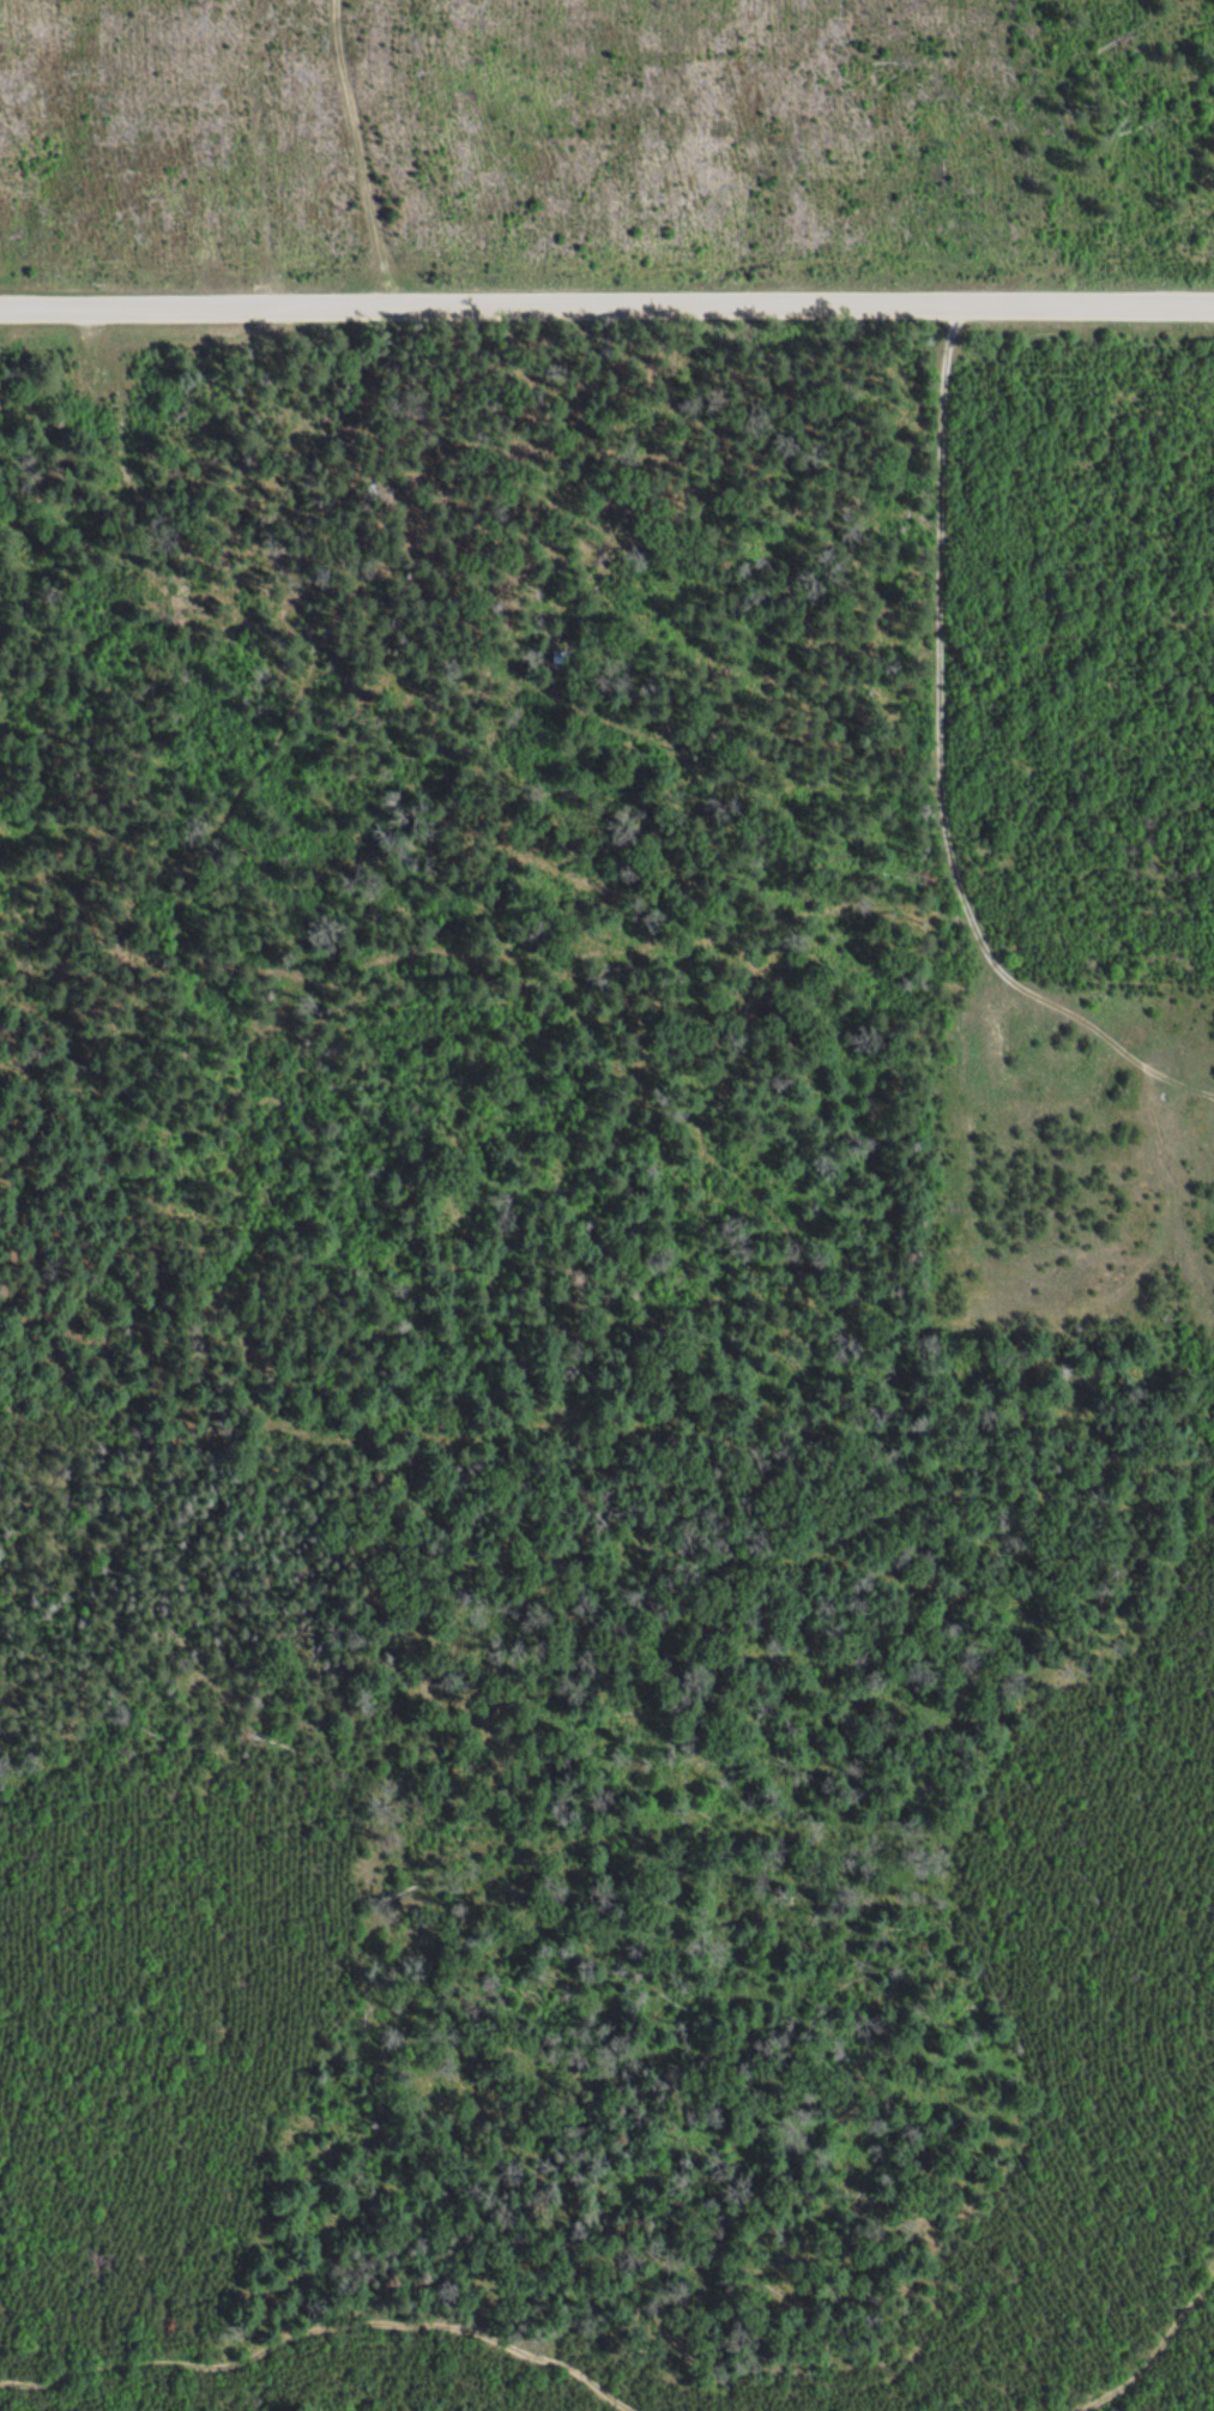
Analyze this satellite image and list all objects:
road: (352, 143)
road: (606, 291)
road: (940, 764)
road: (324, 2341)
road: (1152, 2357)

